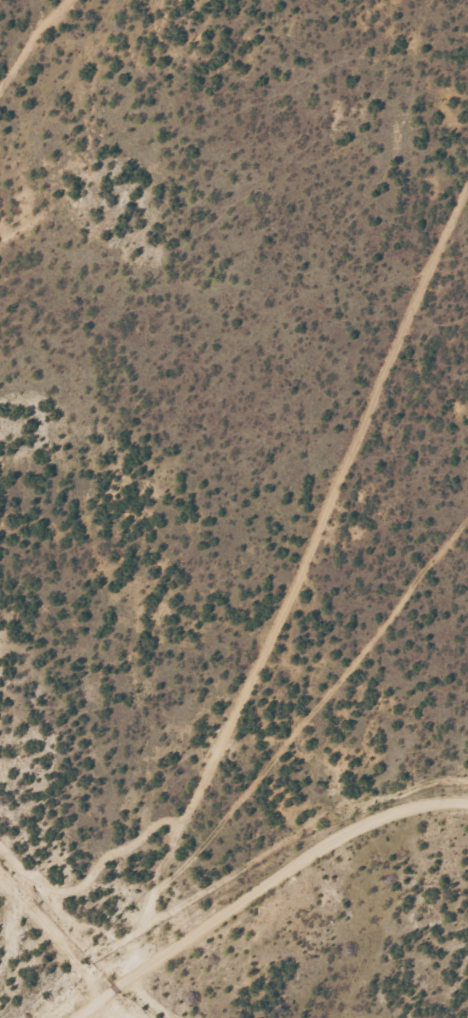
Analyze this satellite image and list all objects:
road: (263, 887)

